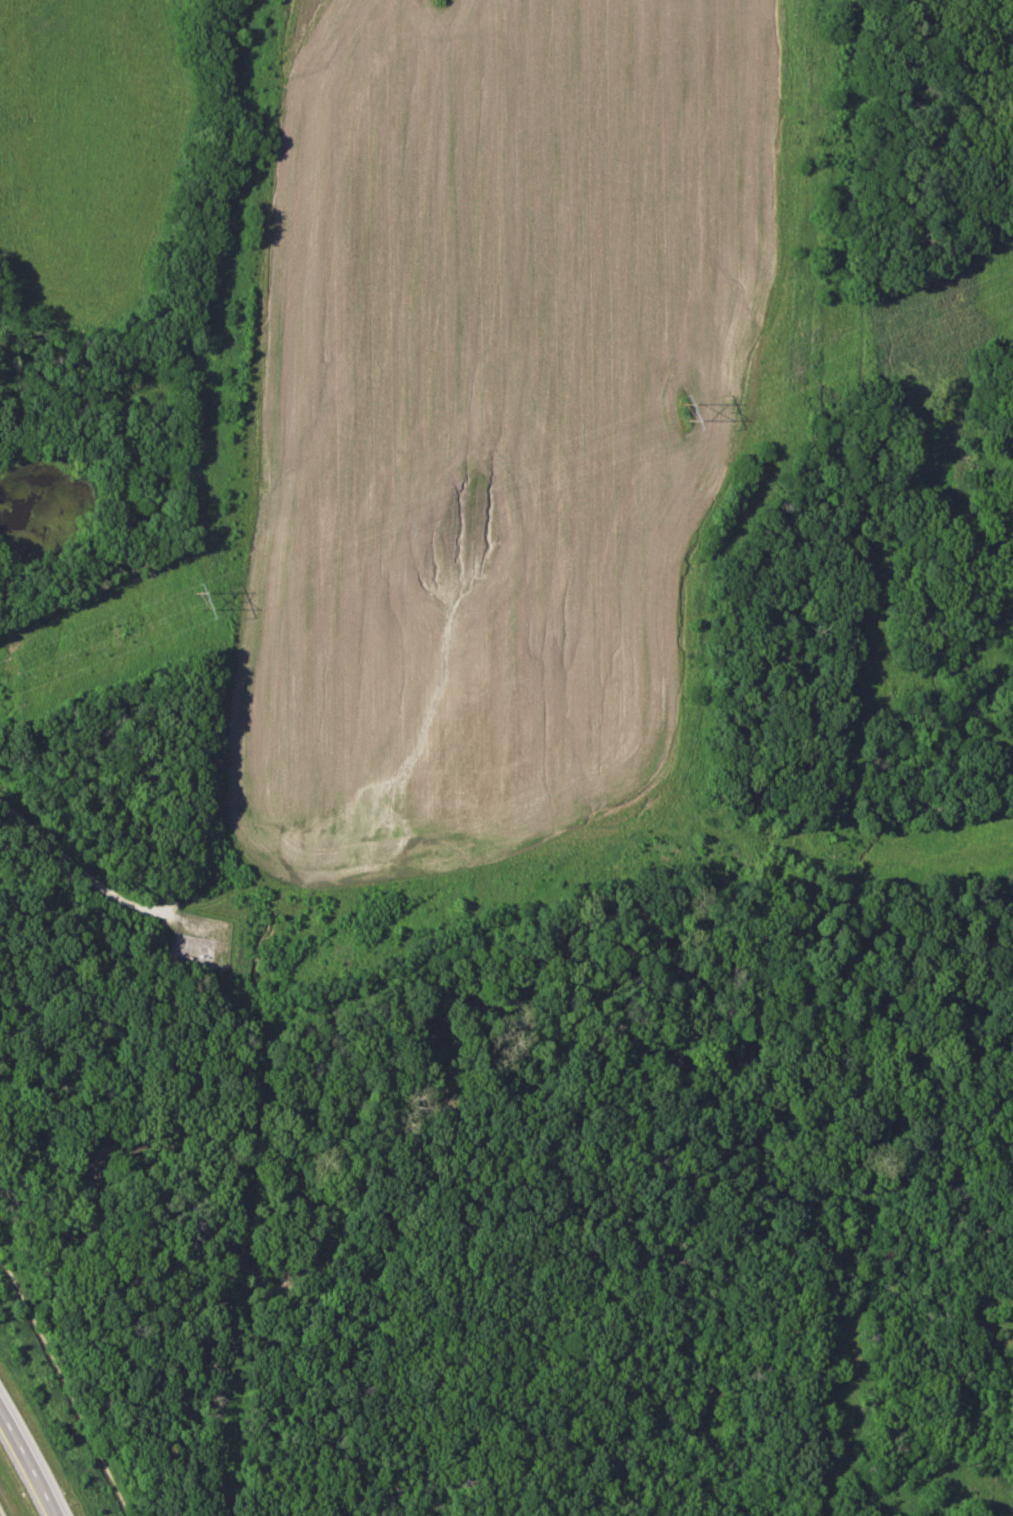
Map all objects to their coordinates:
power tower: (686, 410)
power tower: (197, 599)
road: (77, 866)
road: (26, 1462)

